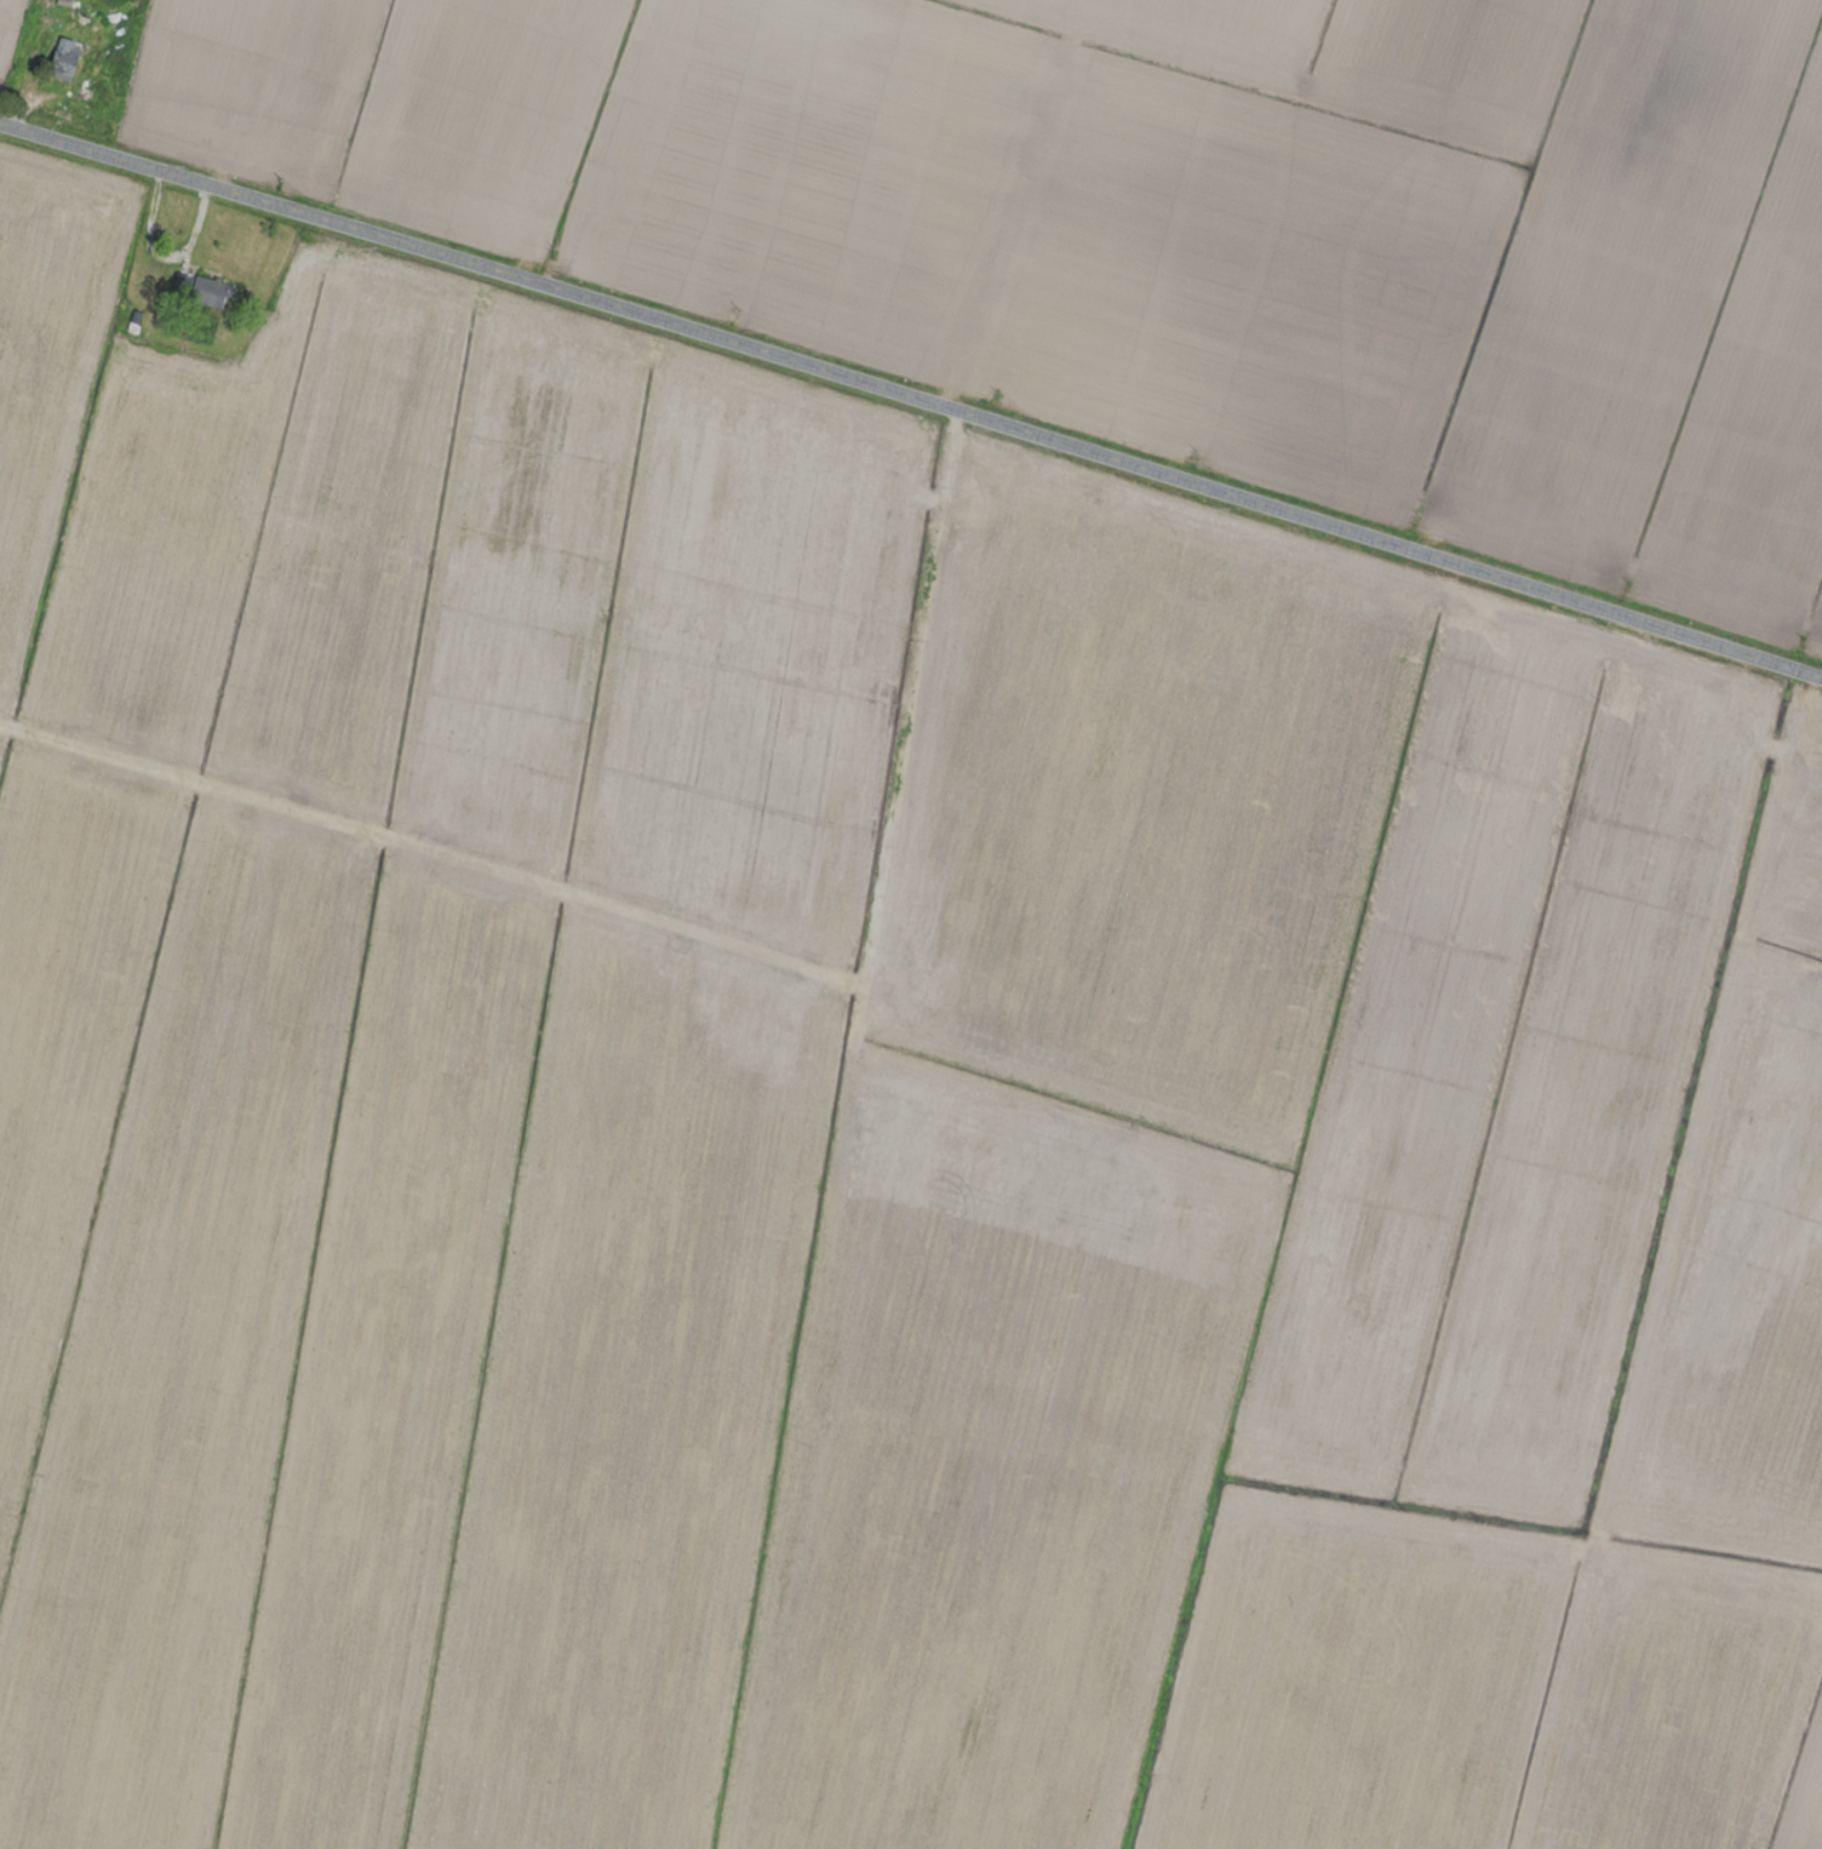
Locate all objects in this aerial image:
building: (62, 58)
building: (206, 292)
road: (912, 412)

